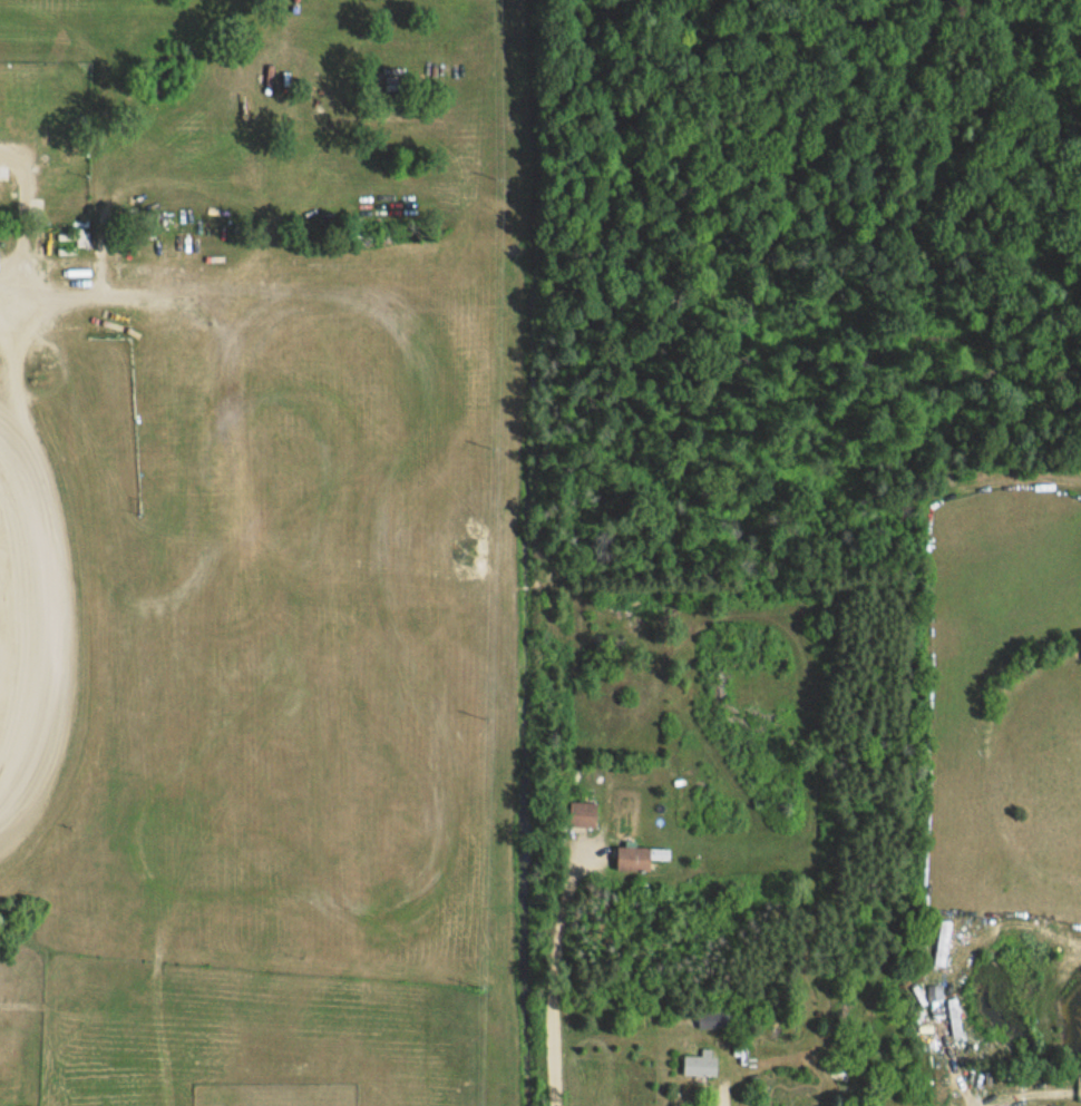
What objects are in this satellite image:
raceway: (49, 625)
building: (583, 814)
building: (633, 858)
road: (552, 982)
building: (712, 1019)
building: (701, 1063)

